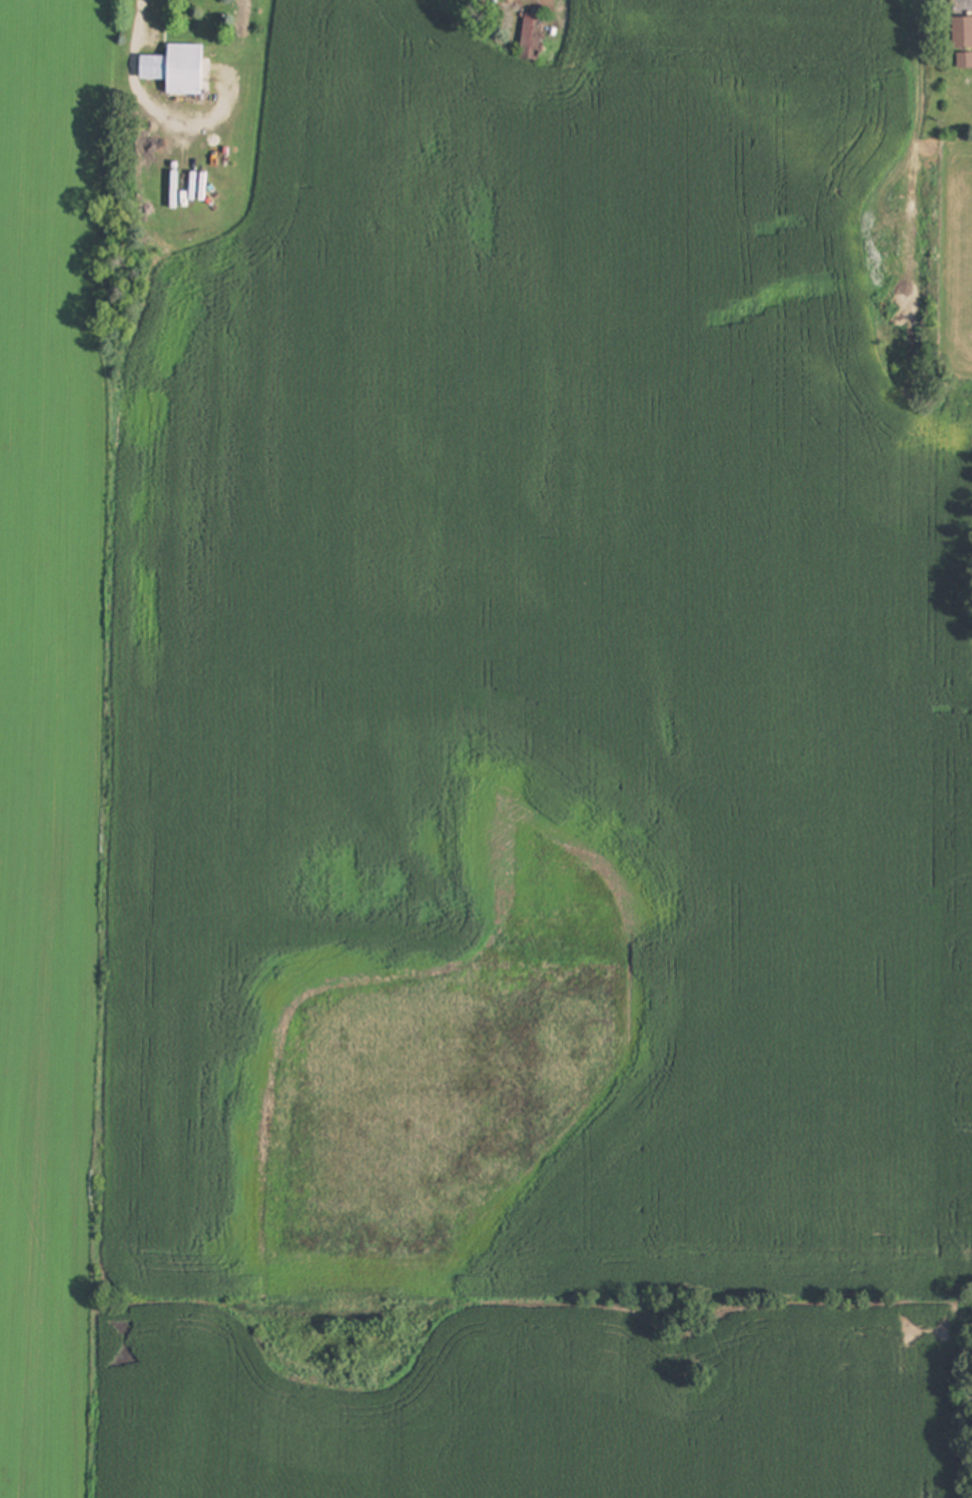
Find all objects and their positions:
road: (130, 30)
building: (532, 37)
building: (963, 43)
building: (177, 70)

